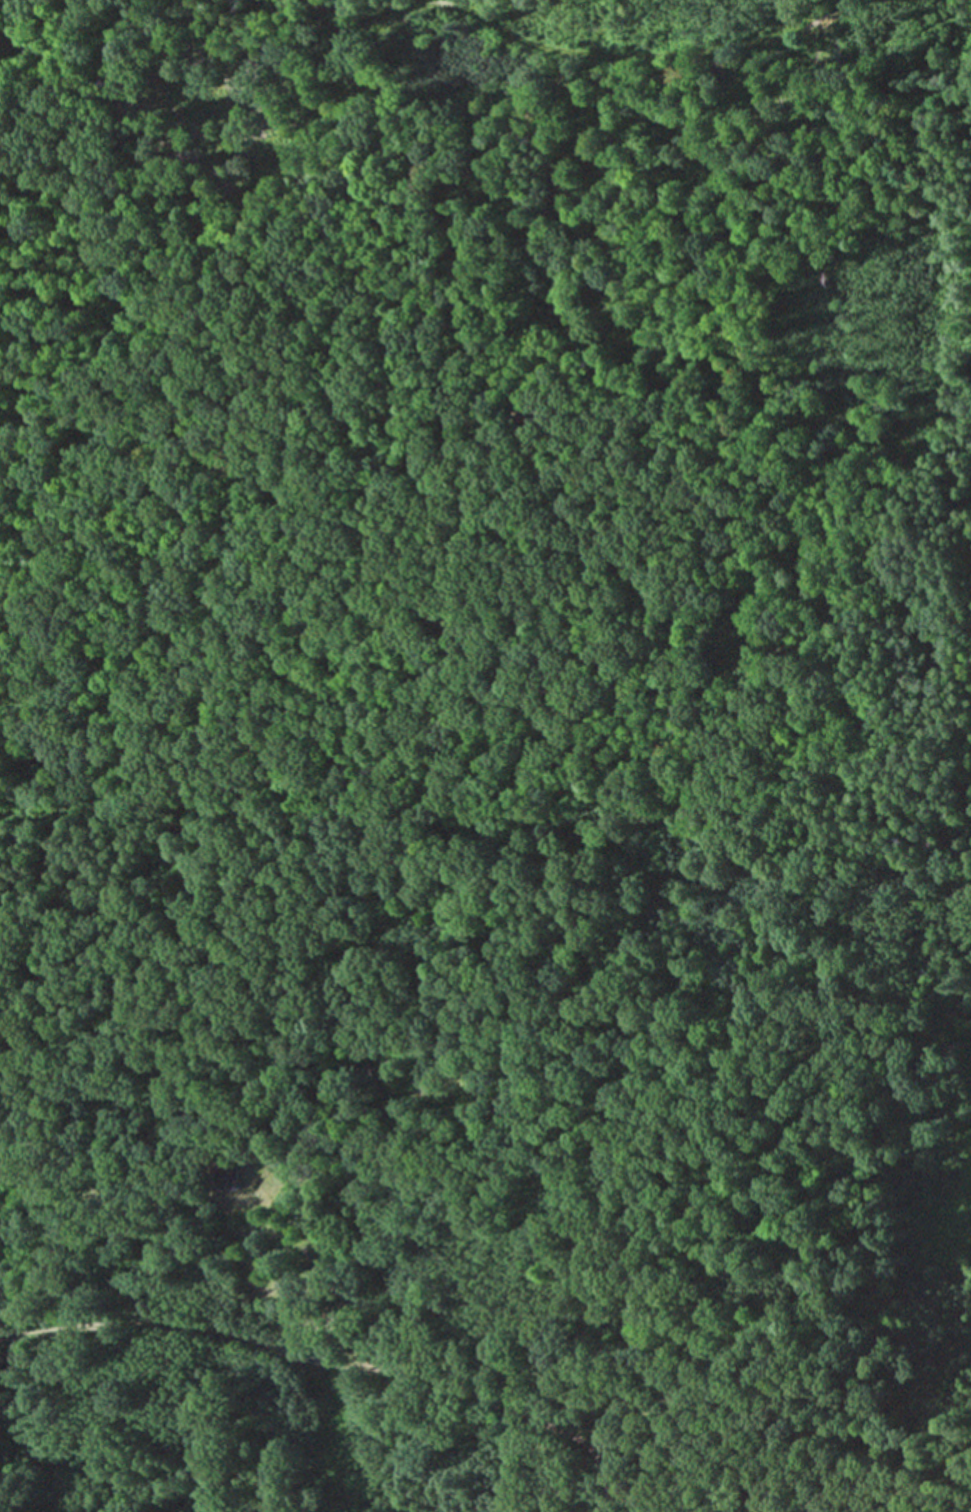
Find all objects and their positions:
building: (231, 1179)
road: (370, 1250)
road: (322, 1364)

